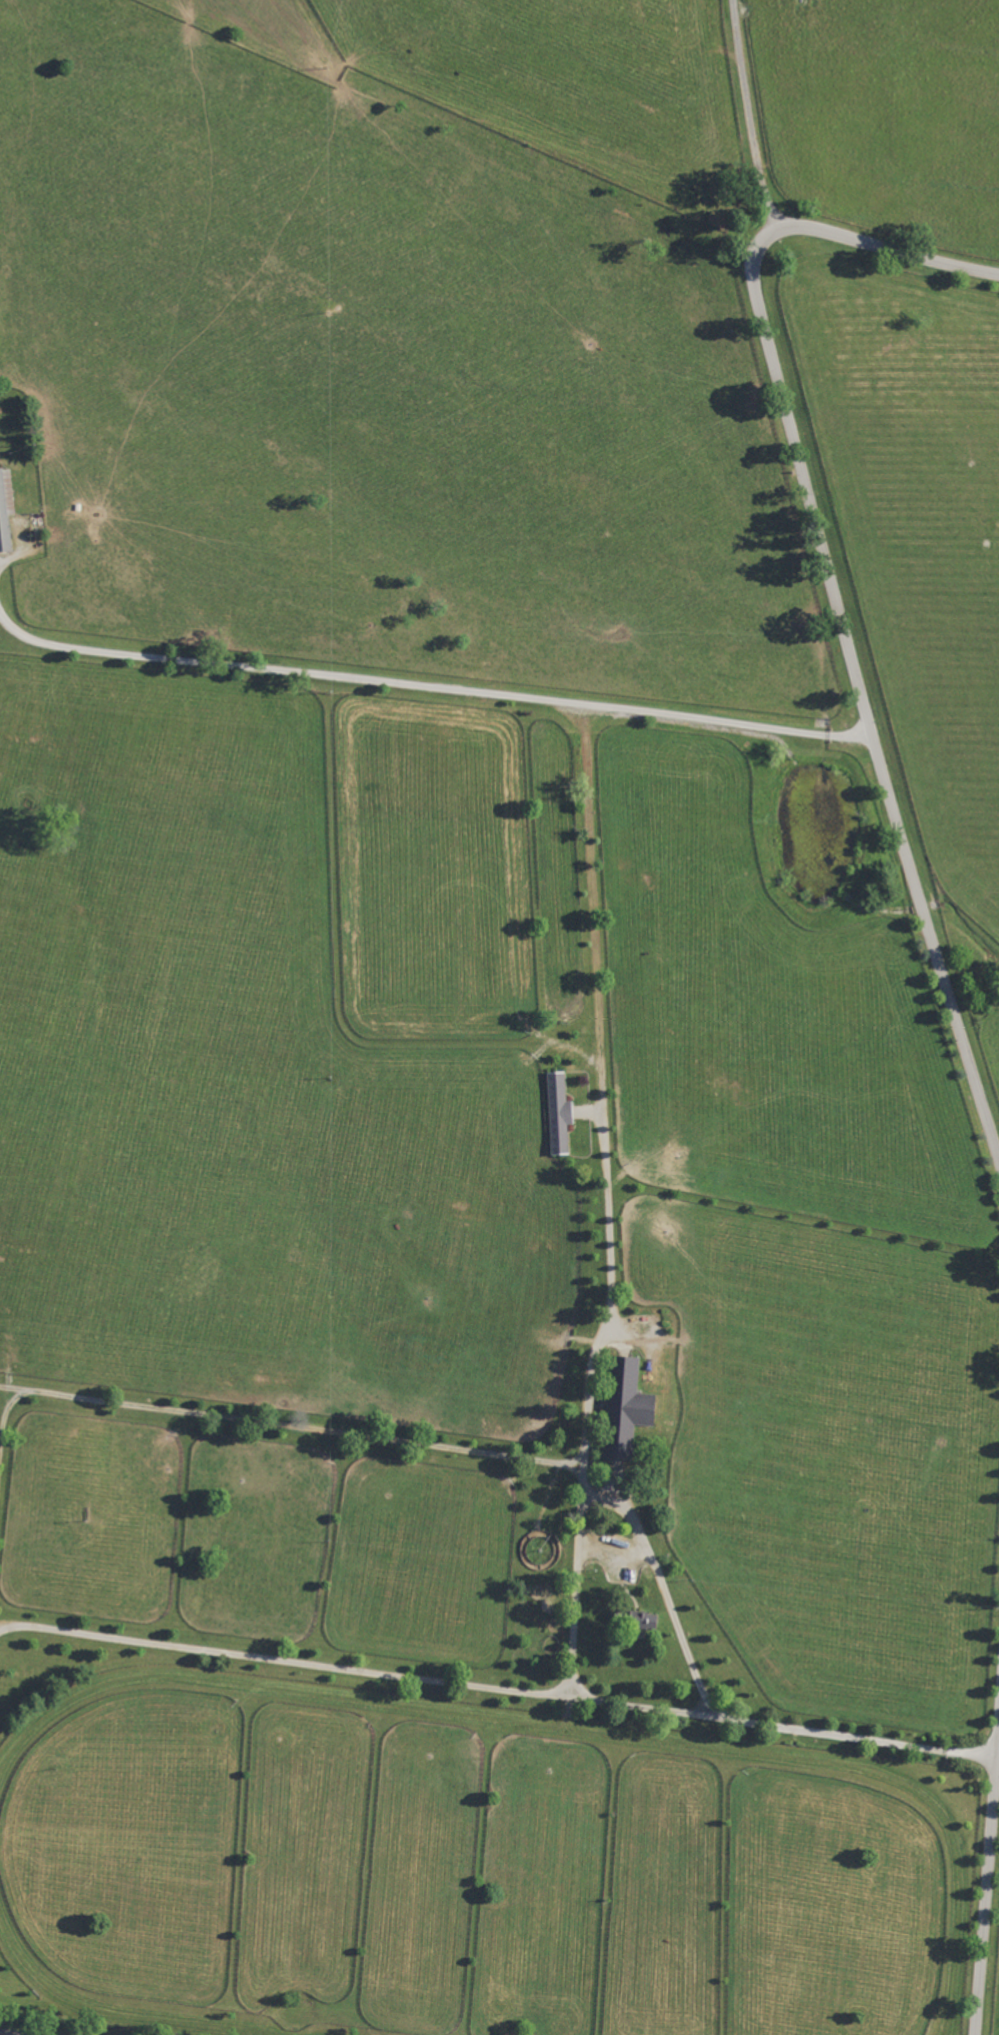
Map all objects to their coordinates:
road: (751, 116)
building: (3, 514)
road: (833, 584)
road: (430, 685)
road: (591, 862)
building: (557, 1112)
road: (611, 1249)
building: (624, 1405)
road: (4, 1424)
road: (401, 1445)
road: (613, 1553)
road: (662, 1588)
road: (499, 1689)
road: (986, 1896)
road: (21, 2032)

